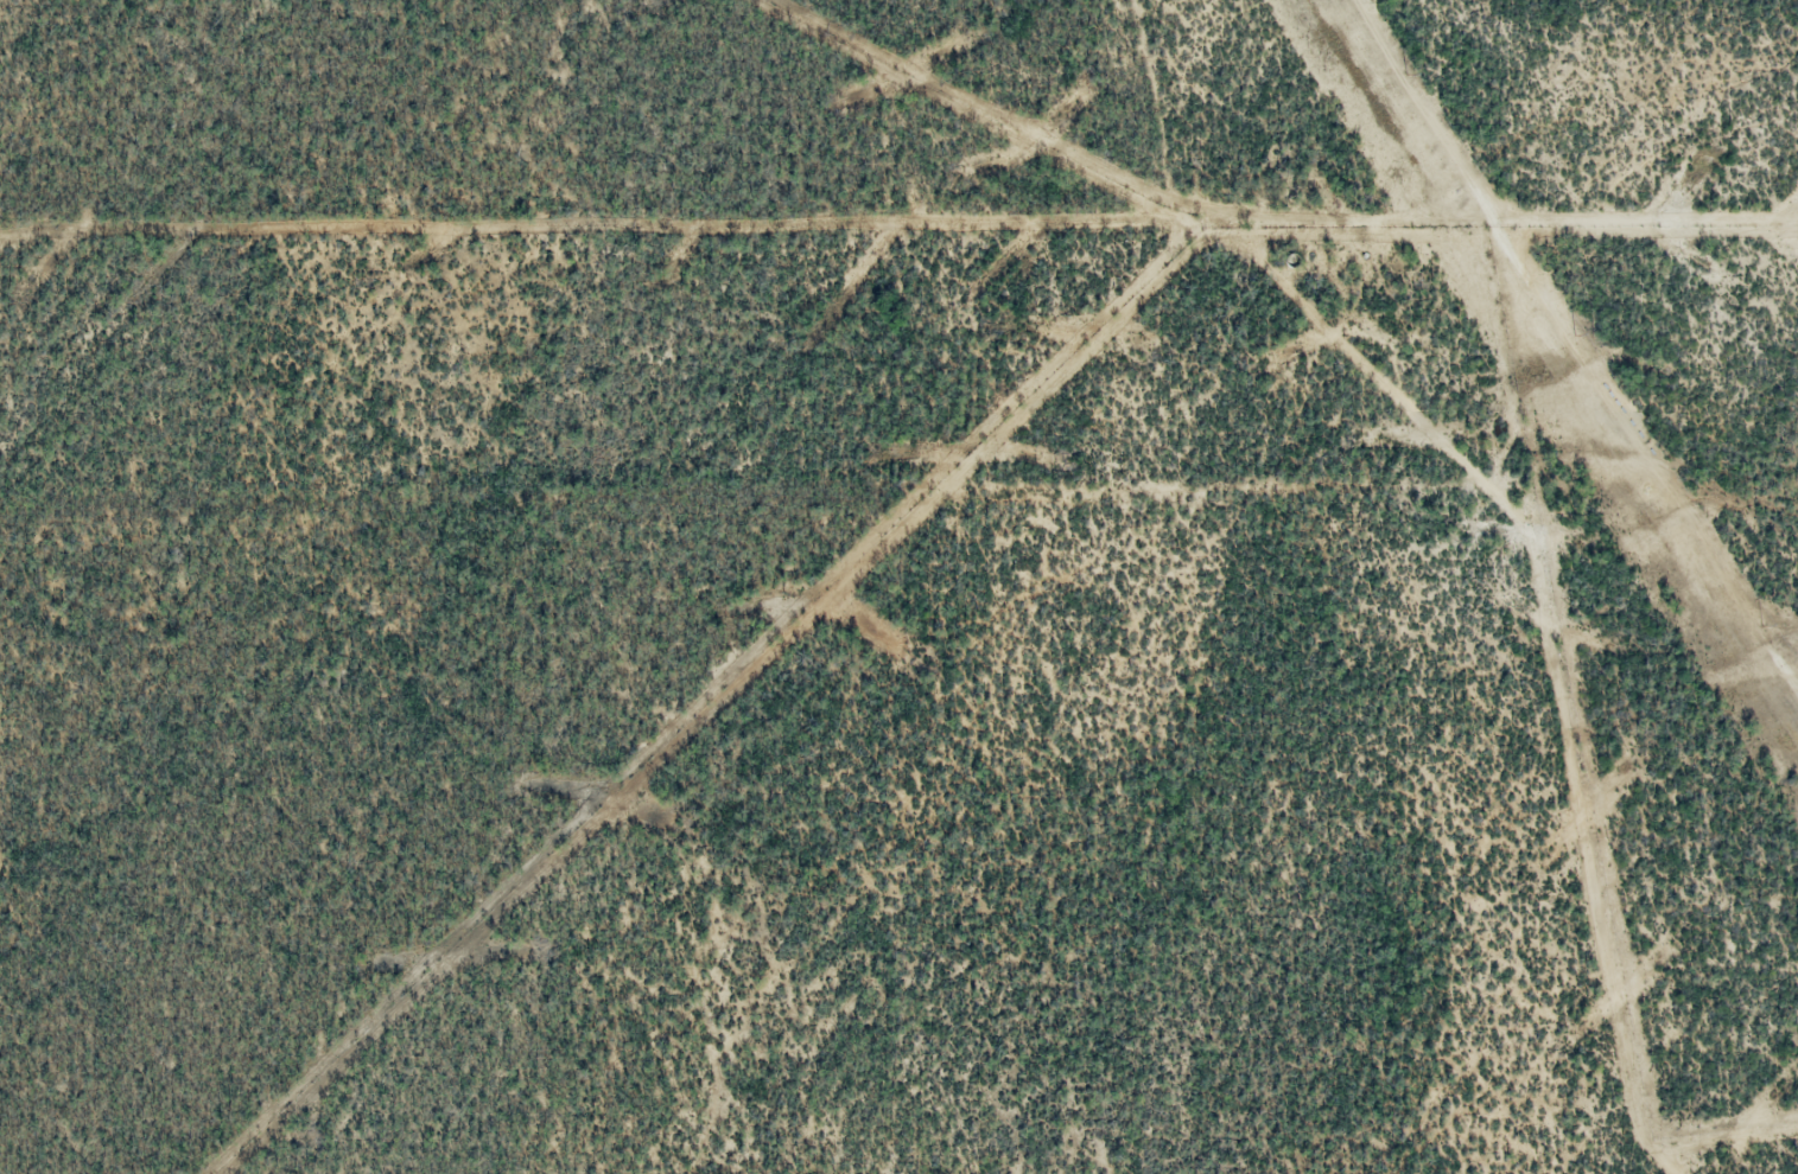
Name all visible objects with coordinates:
power tower: (1405, 72)
power tower: (1574, 333)
power tower: (1761, 624)

